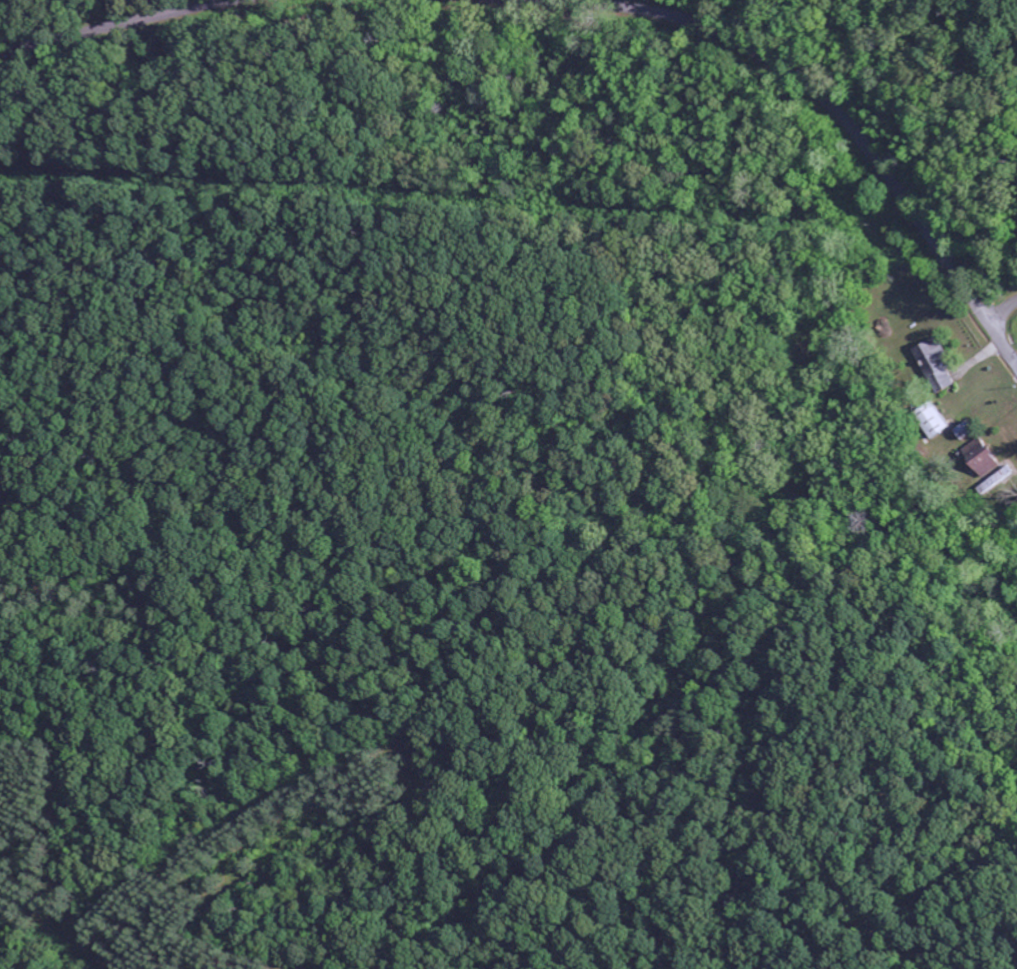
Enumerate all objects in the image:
road: (115, 24)
road: (1003, 39)
road: (827, 104)
road: (1000, 310)
building: (936, 366)

